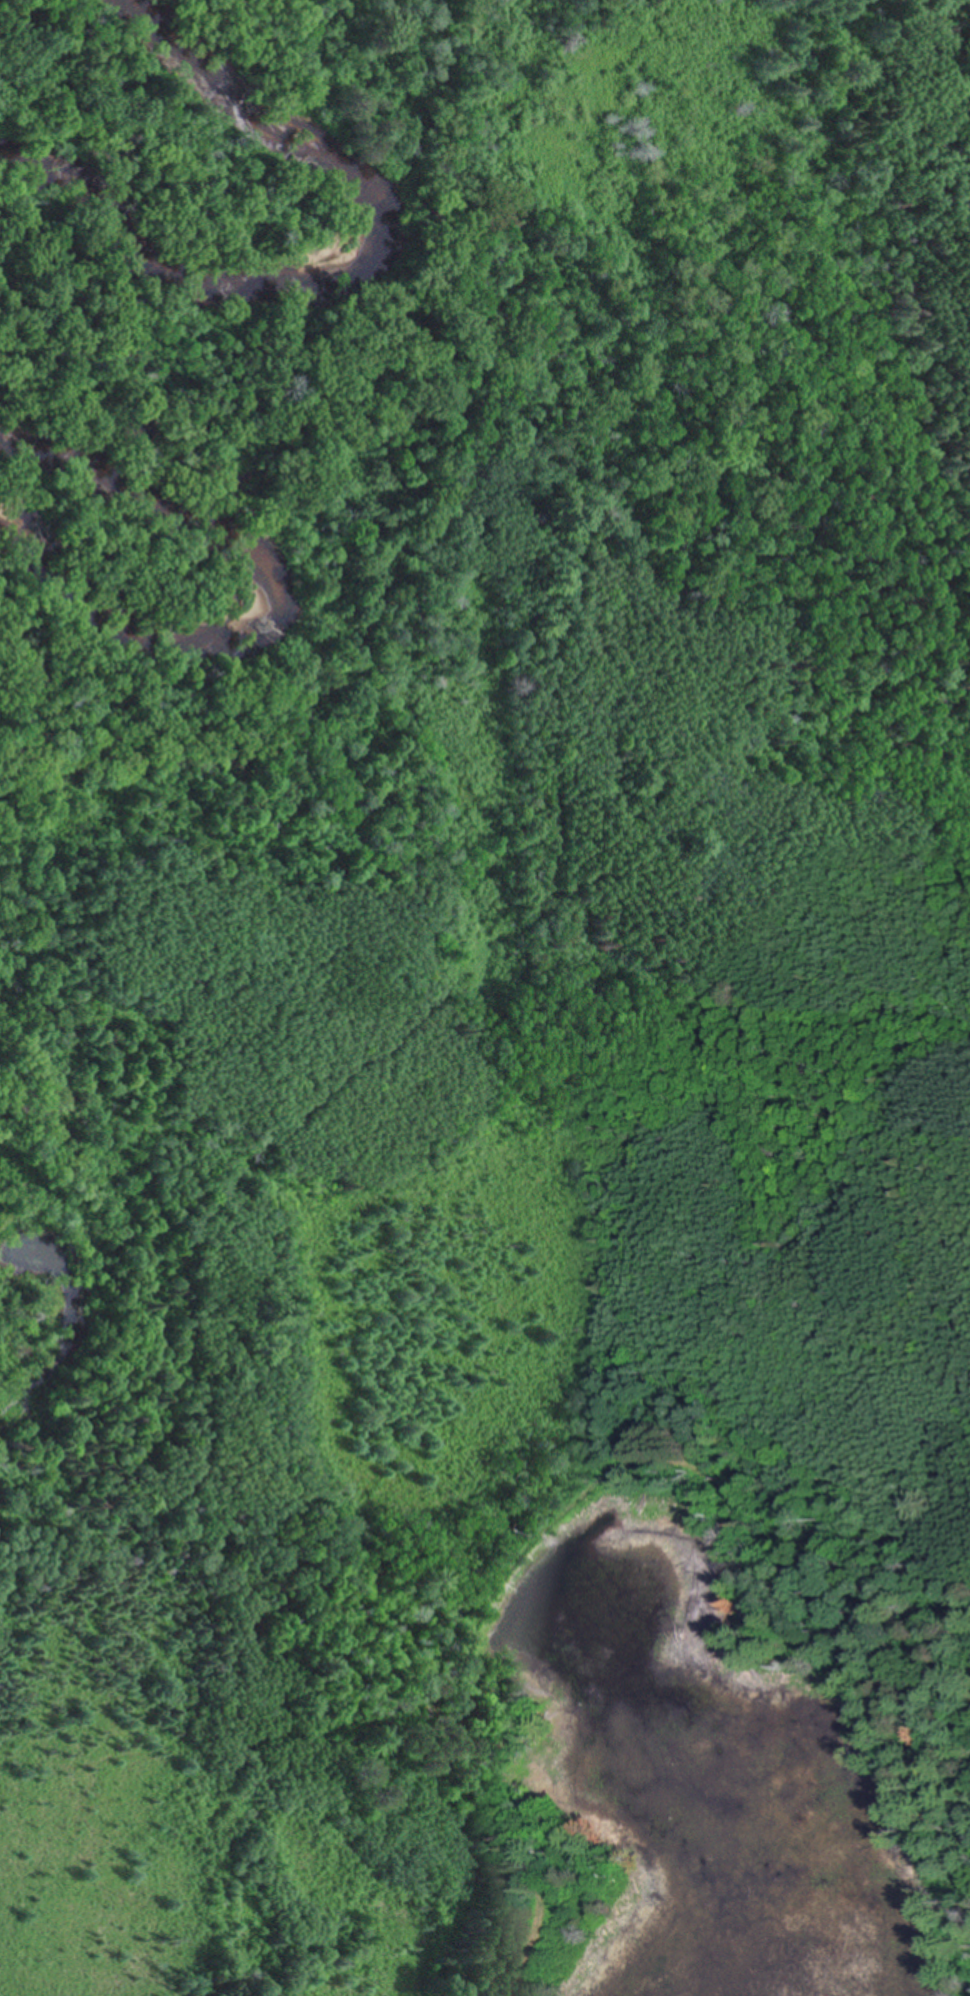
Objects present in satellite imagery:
river: (264, 113)
river: (164, 250)
river: (233, 577)

